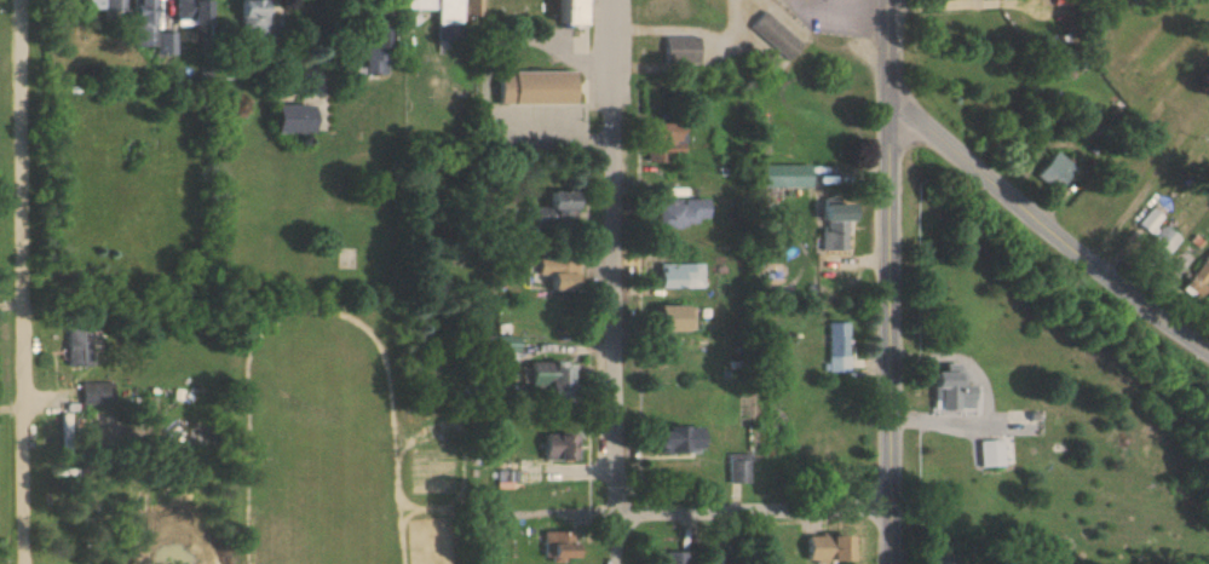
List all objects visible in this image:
building: (106, 4)
building: (471, 8)
building: (191, 12)
building: (282, 12)
building: (569, 12)
road: (851, 13)
building: (442, 17)
building: (251, 19)
building: (149, 29)
building: (776, 35)
building: (372, 48)
building: (679, 50)
road: (888, 50)
building: (1134, 77)
building: (537, 88)
building: (289, 119)
building: (661, 133)
building: (661, 150)
building: (1055, 173)
building: (785, 175)
building: (554, 211)
building: (677, 212)
building: (1153, 218)
building: (834, 225)
road: (1047, 226)
building: (557, 272)
building: (677, 275)
building: (1198, 277)
road: (880, 278)
road: (27, 282)
road: (616, 282)
building: (1208, 306)
building: (670, 317)
road: (892, 332)
building: (82, 344)
building: (497, 347)
building: (839, 347)
building: (433, 373)
building: (551, 380)
building: (951, 391)
building: (99, 392)
building: (1026, 420)
building: (674, 438)
building: (559, 445)
building: (818, 461)
building: (736, 468)
road: (754, 510)
building: (557, 545)
building: (824, 547)
building: (672, 557)

